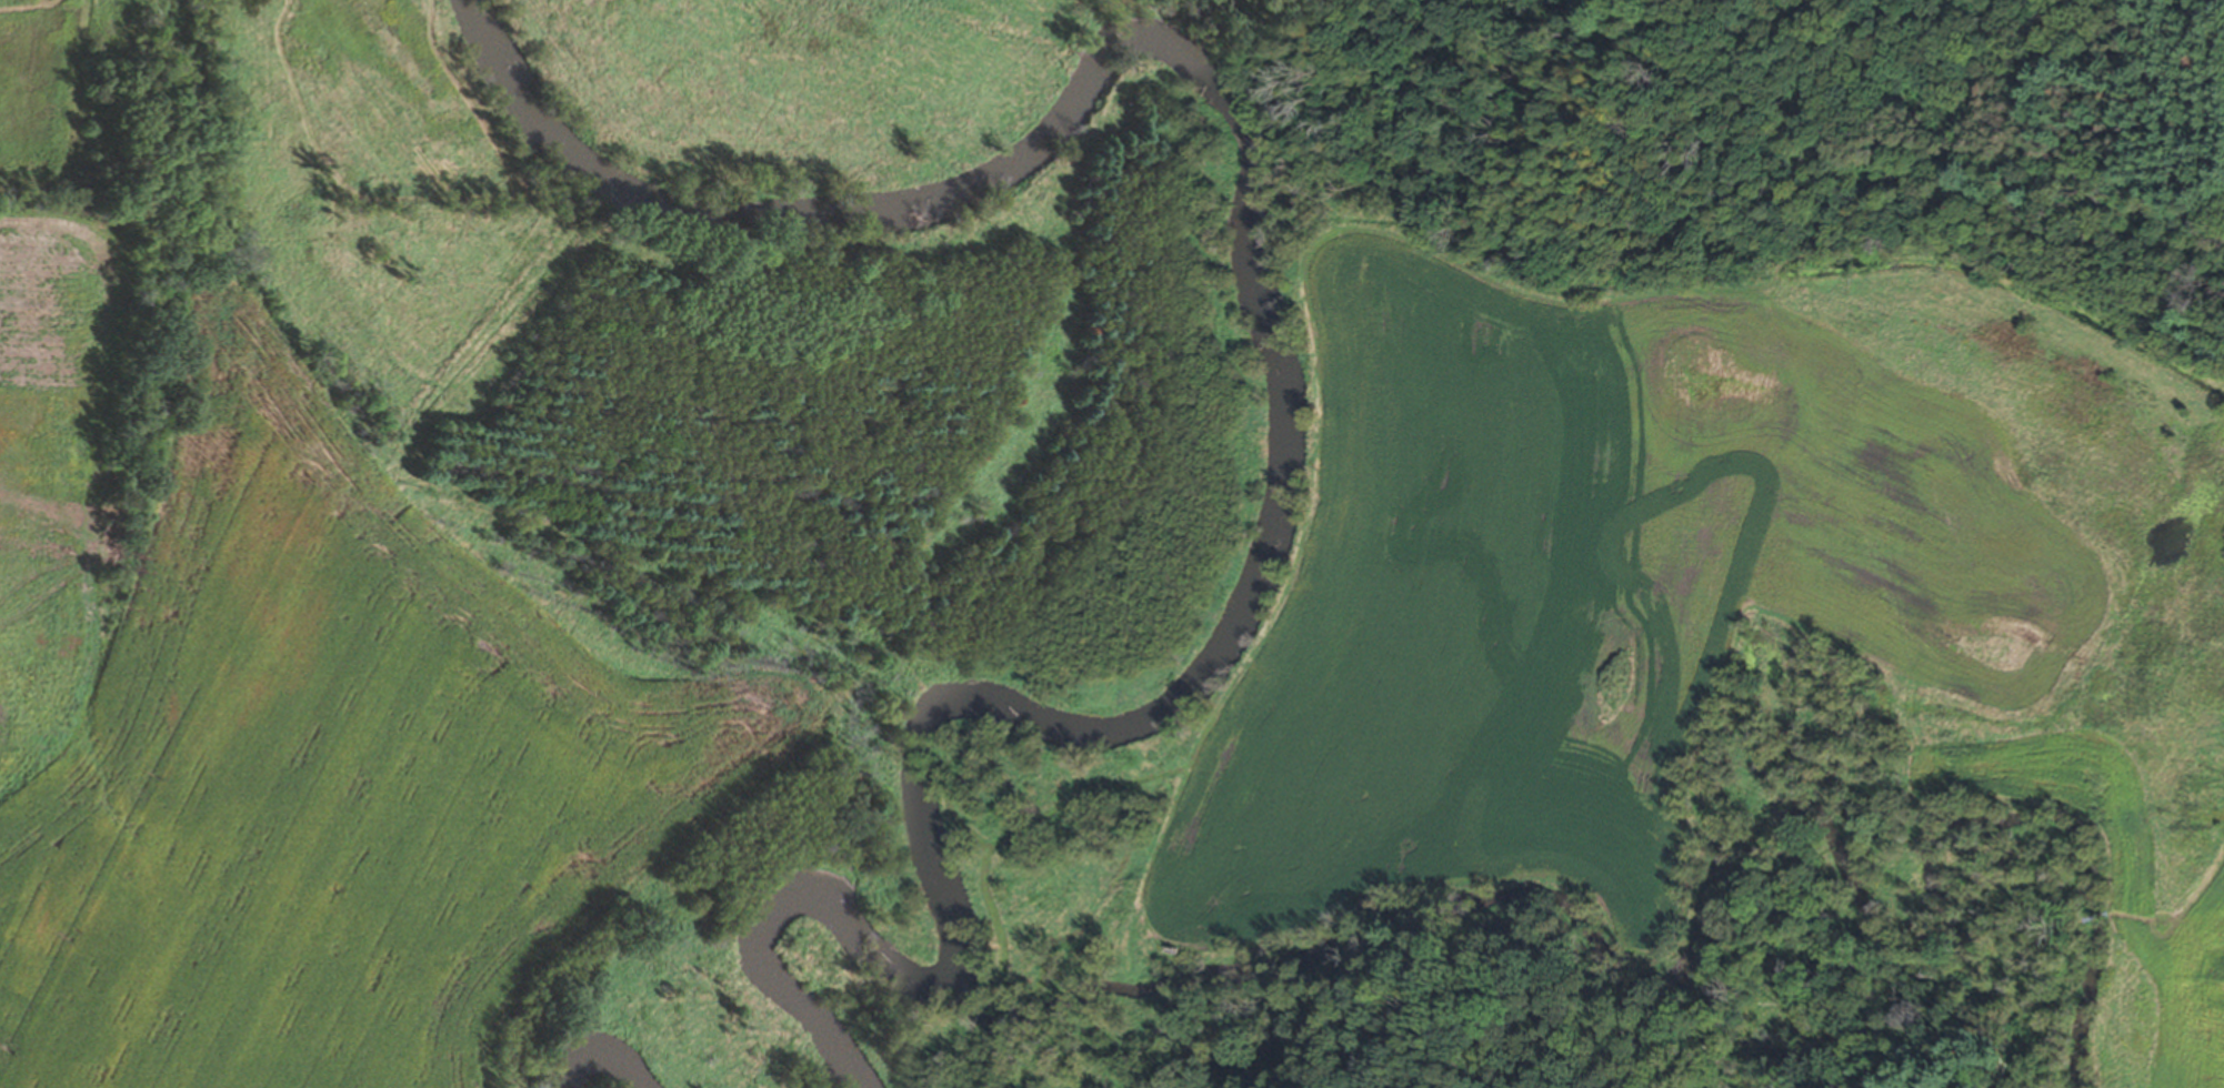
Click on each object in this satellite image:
river: (1293, 367)
river: (601, 1072)

